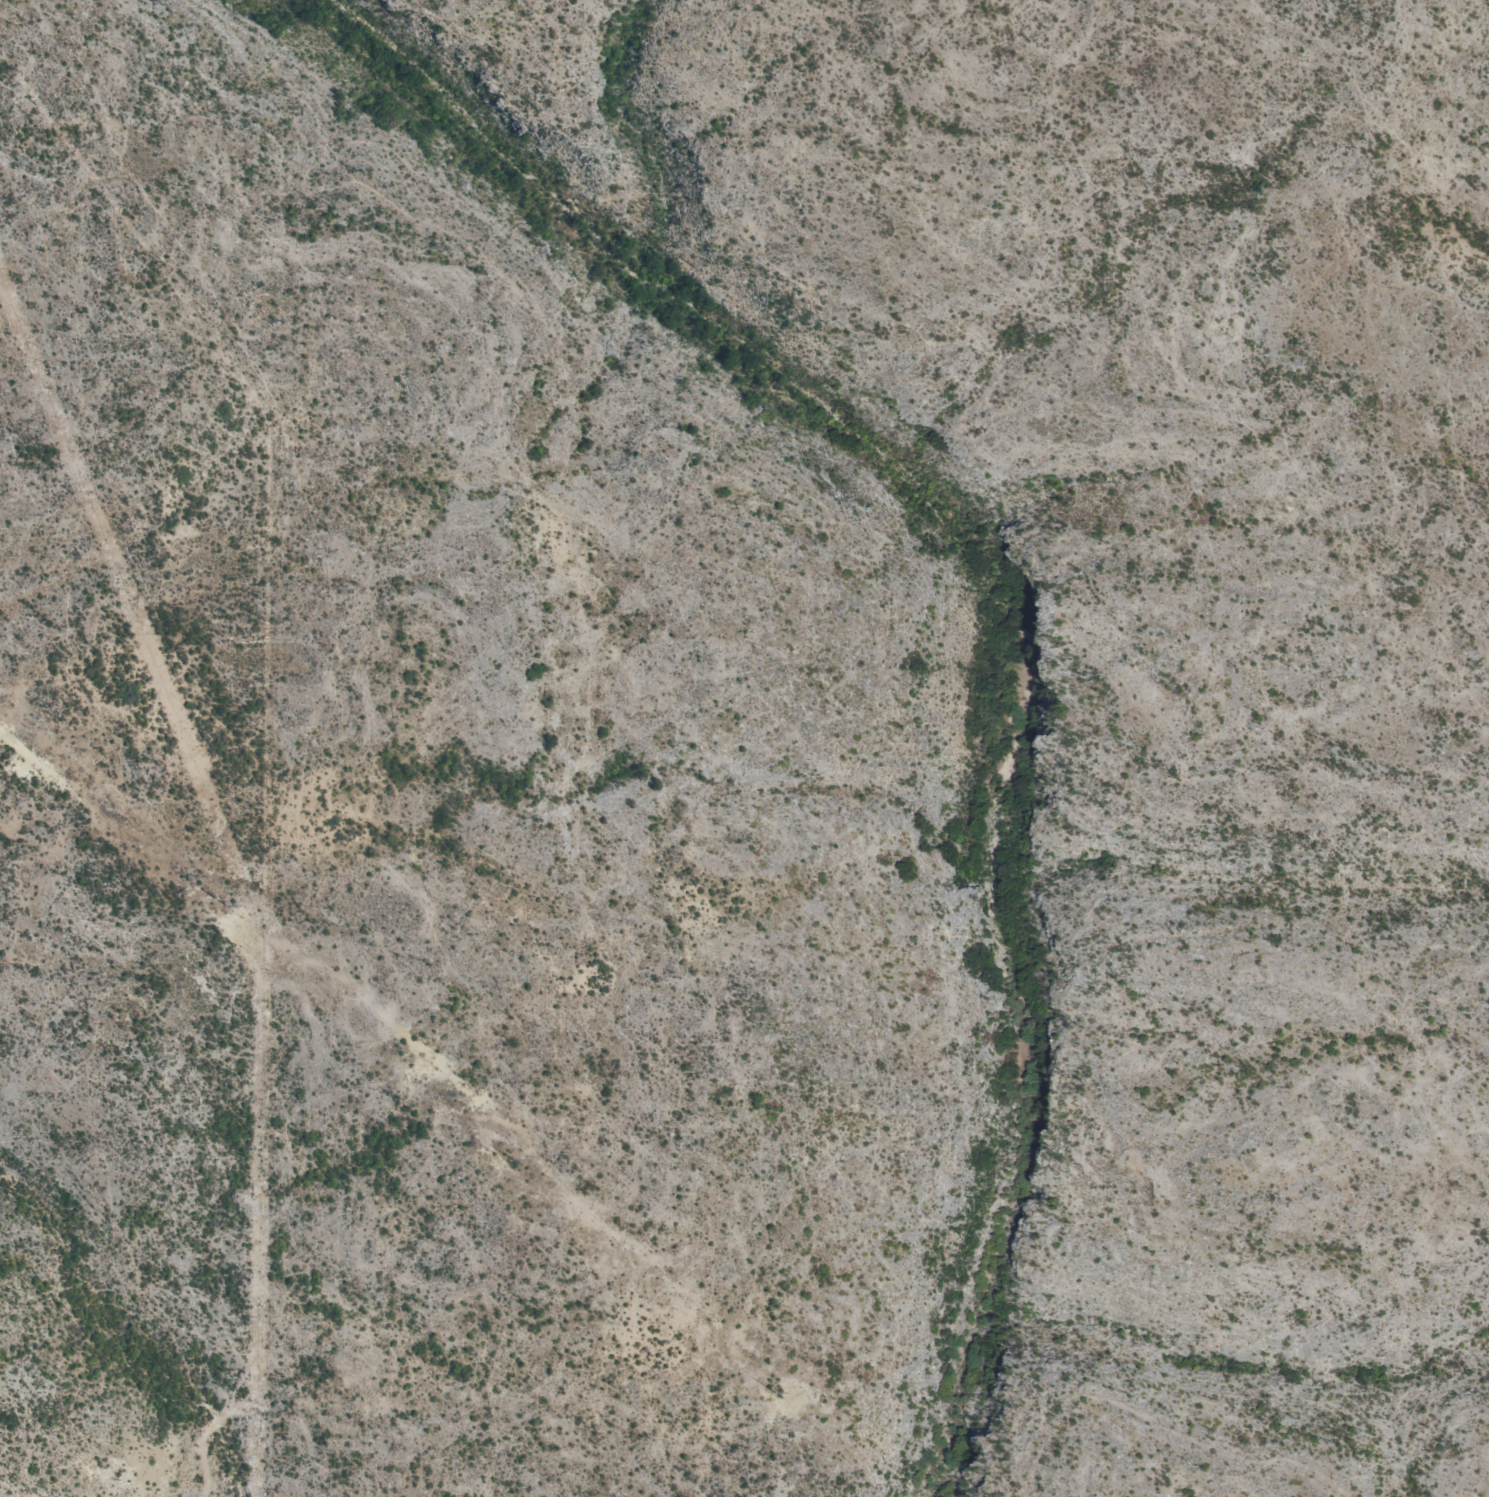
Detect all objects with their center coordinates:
power tower: (224, 910)
power tower: (510, 1159)
power tower: (774, 1392)

